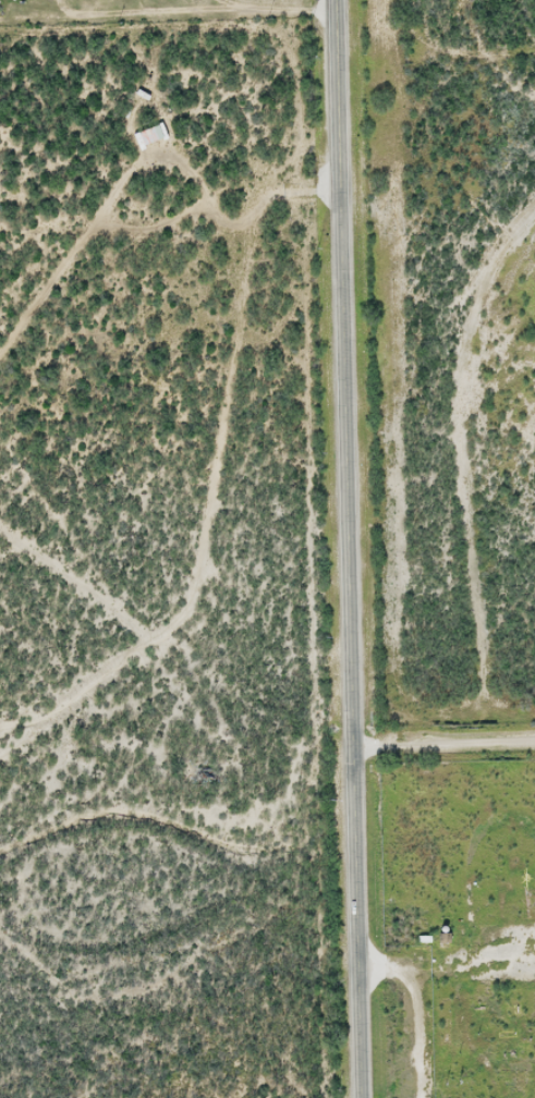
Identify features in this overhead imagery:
building: (148, 136)
road: (229, 439)
road: (457, 497)
road: (346, 549)
road: (508, 711)
road: (442, 743)

